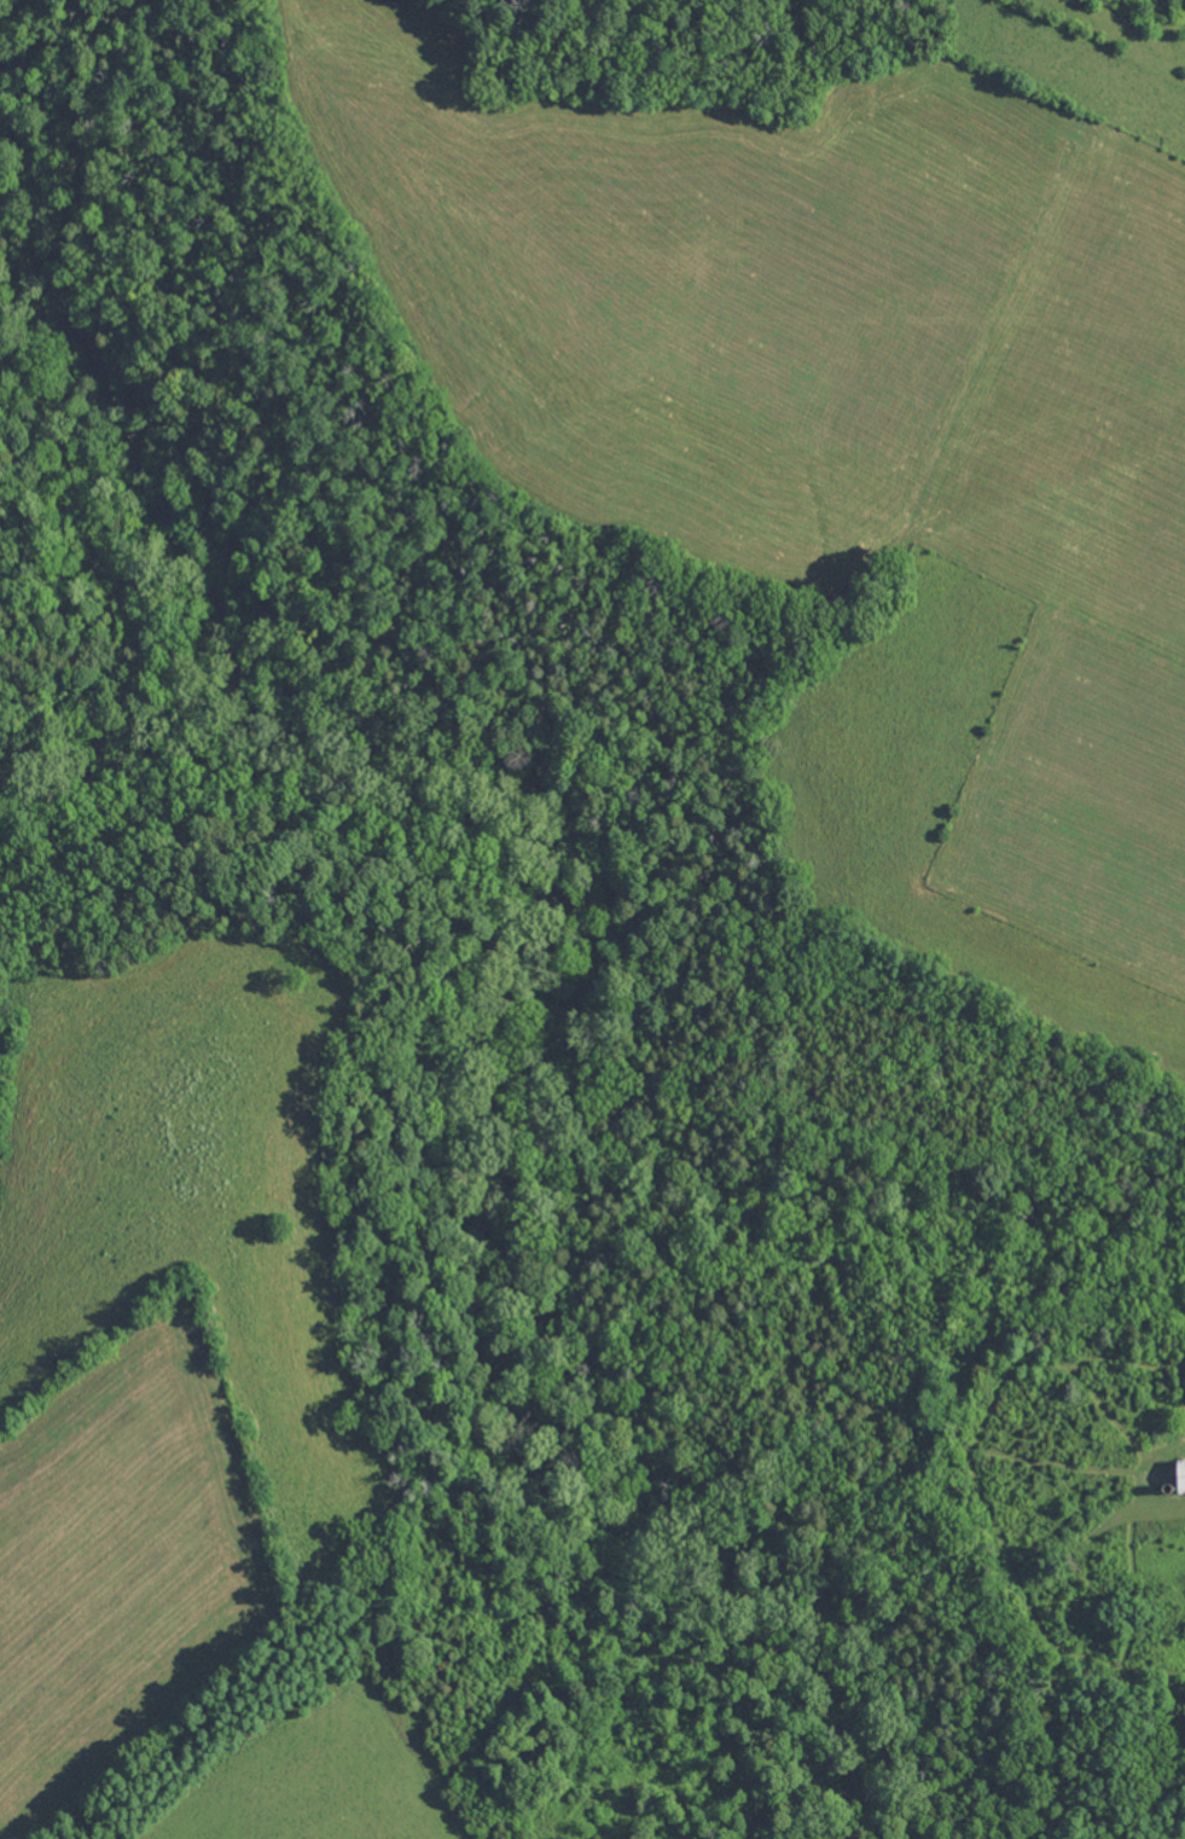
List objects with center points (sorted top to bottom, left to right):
building: (1180, 1477)

